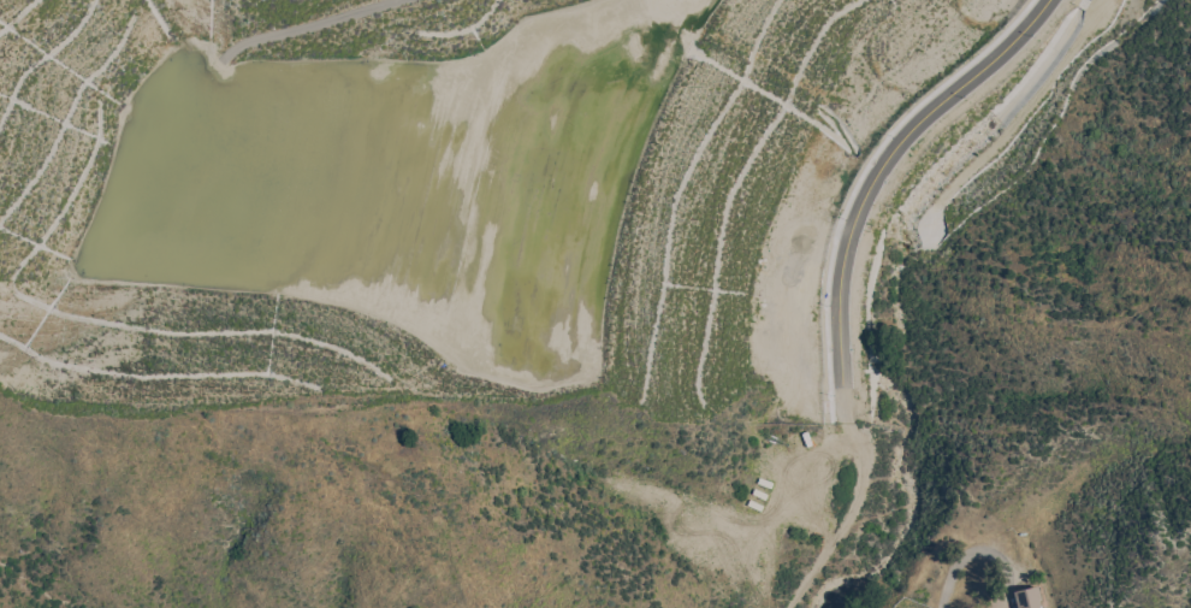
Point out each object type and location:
road: (859, 178)
road: (873, 178)
road: (845, 519)
road: (950, 566)
building: (1029, 597)

